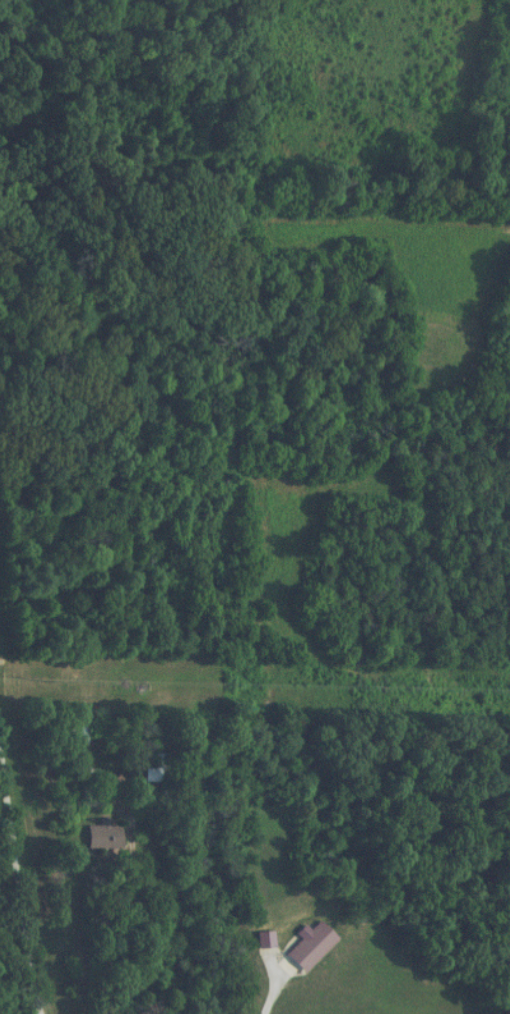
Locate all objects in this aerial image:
road: (20, 871)
road: (138, 912)
building: (309, 947)

